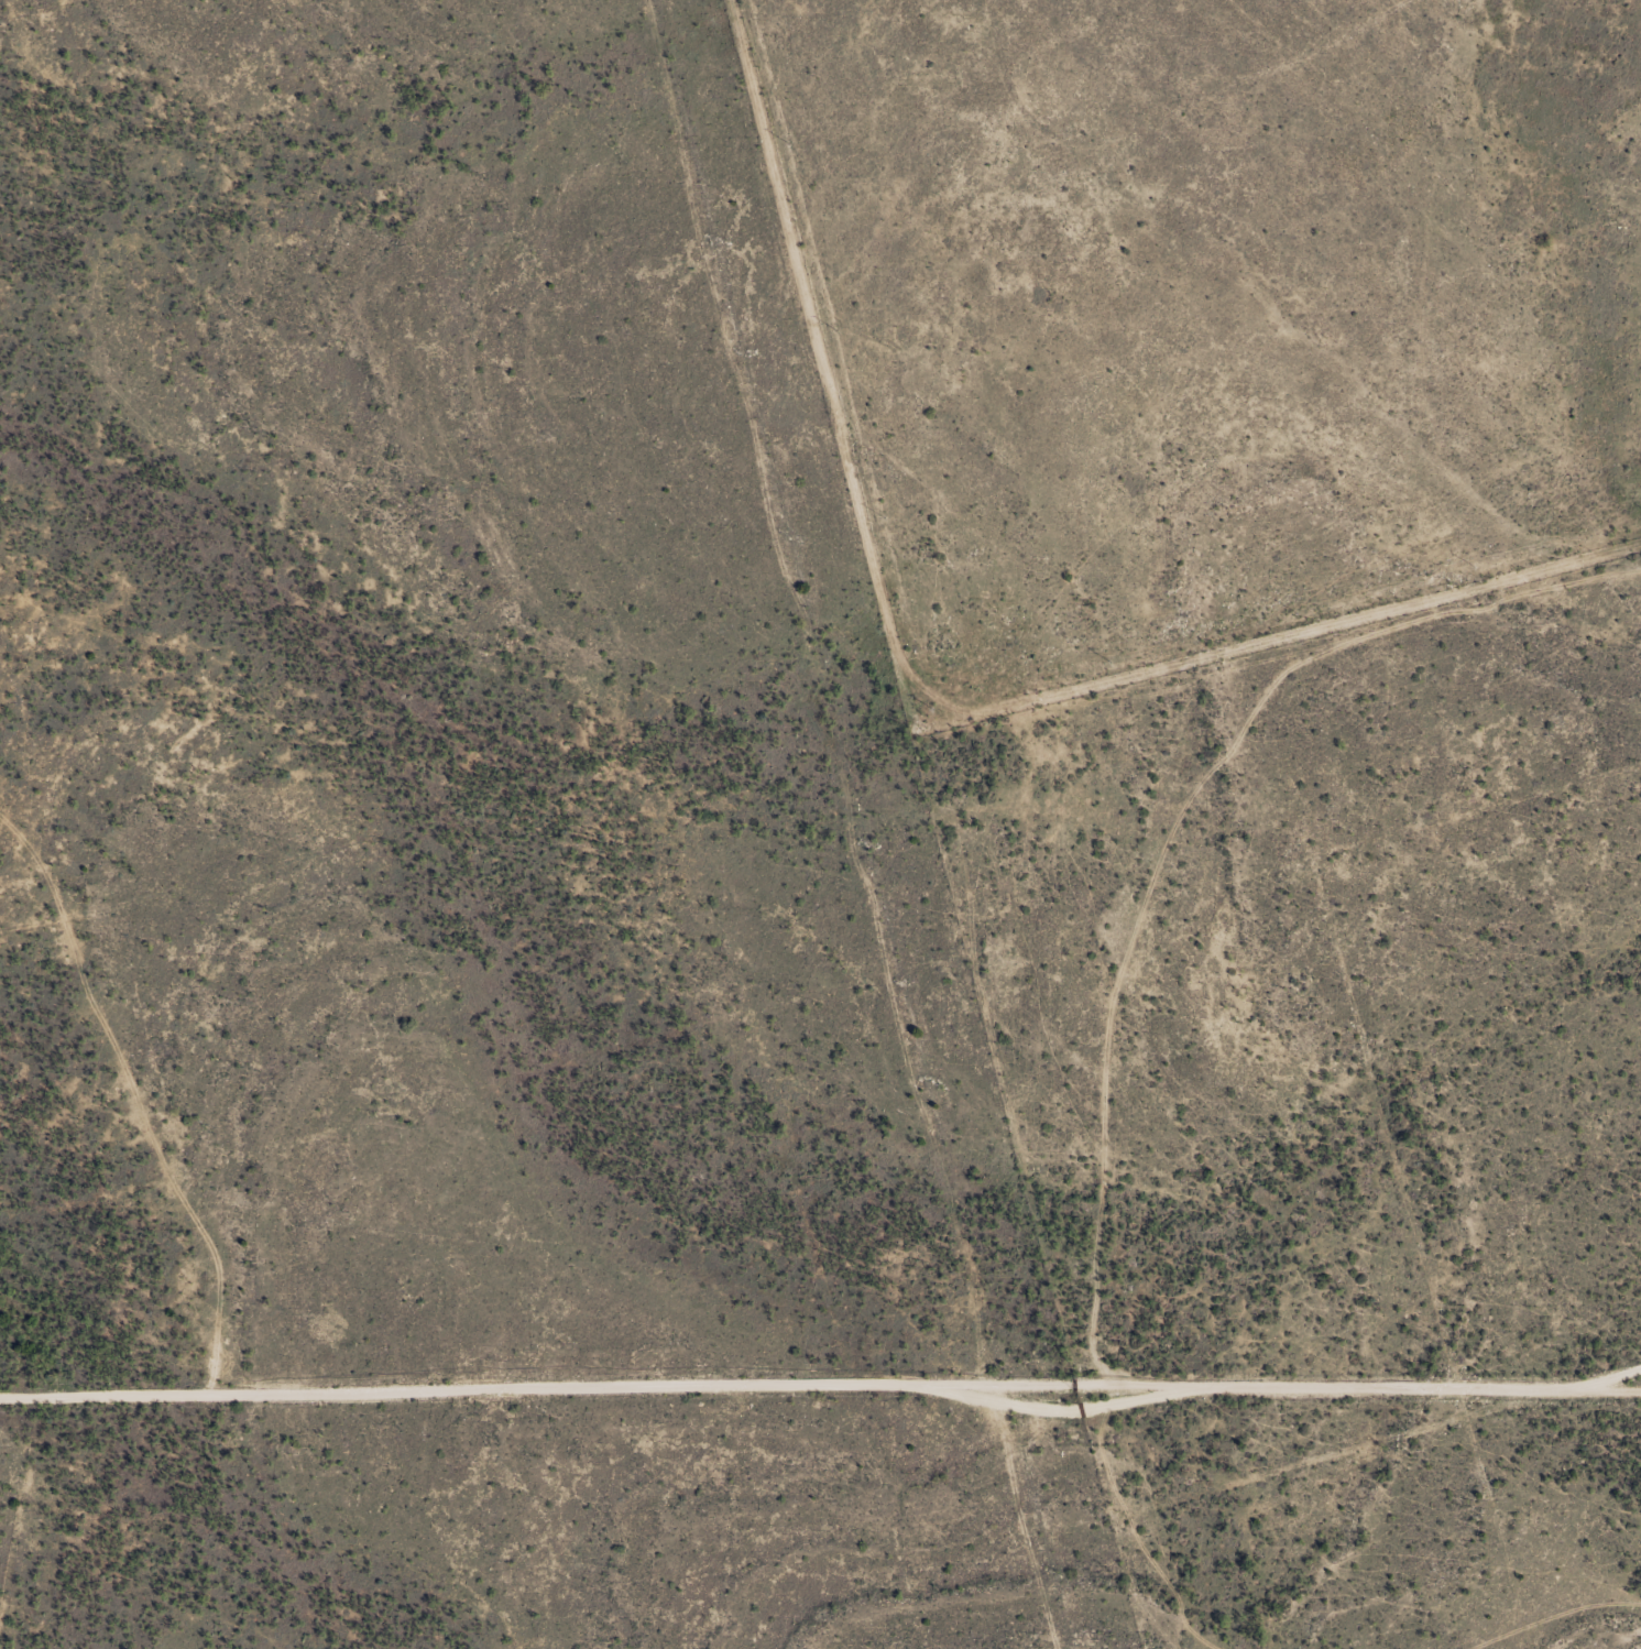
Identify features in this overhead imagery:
road: (1235, 179)
road: (820, 1411)

